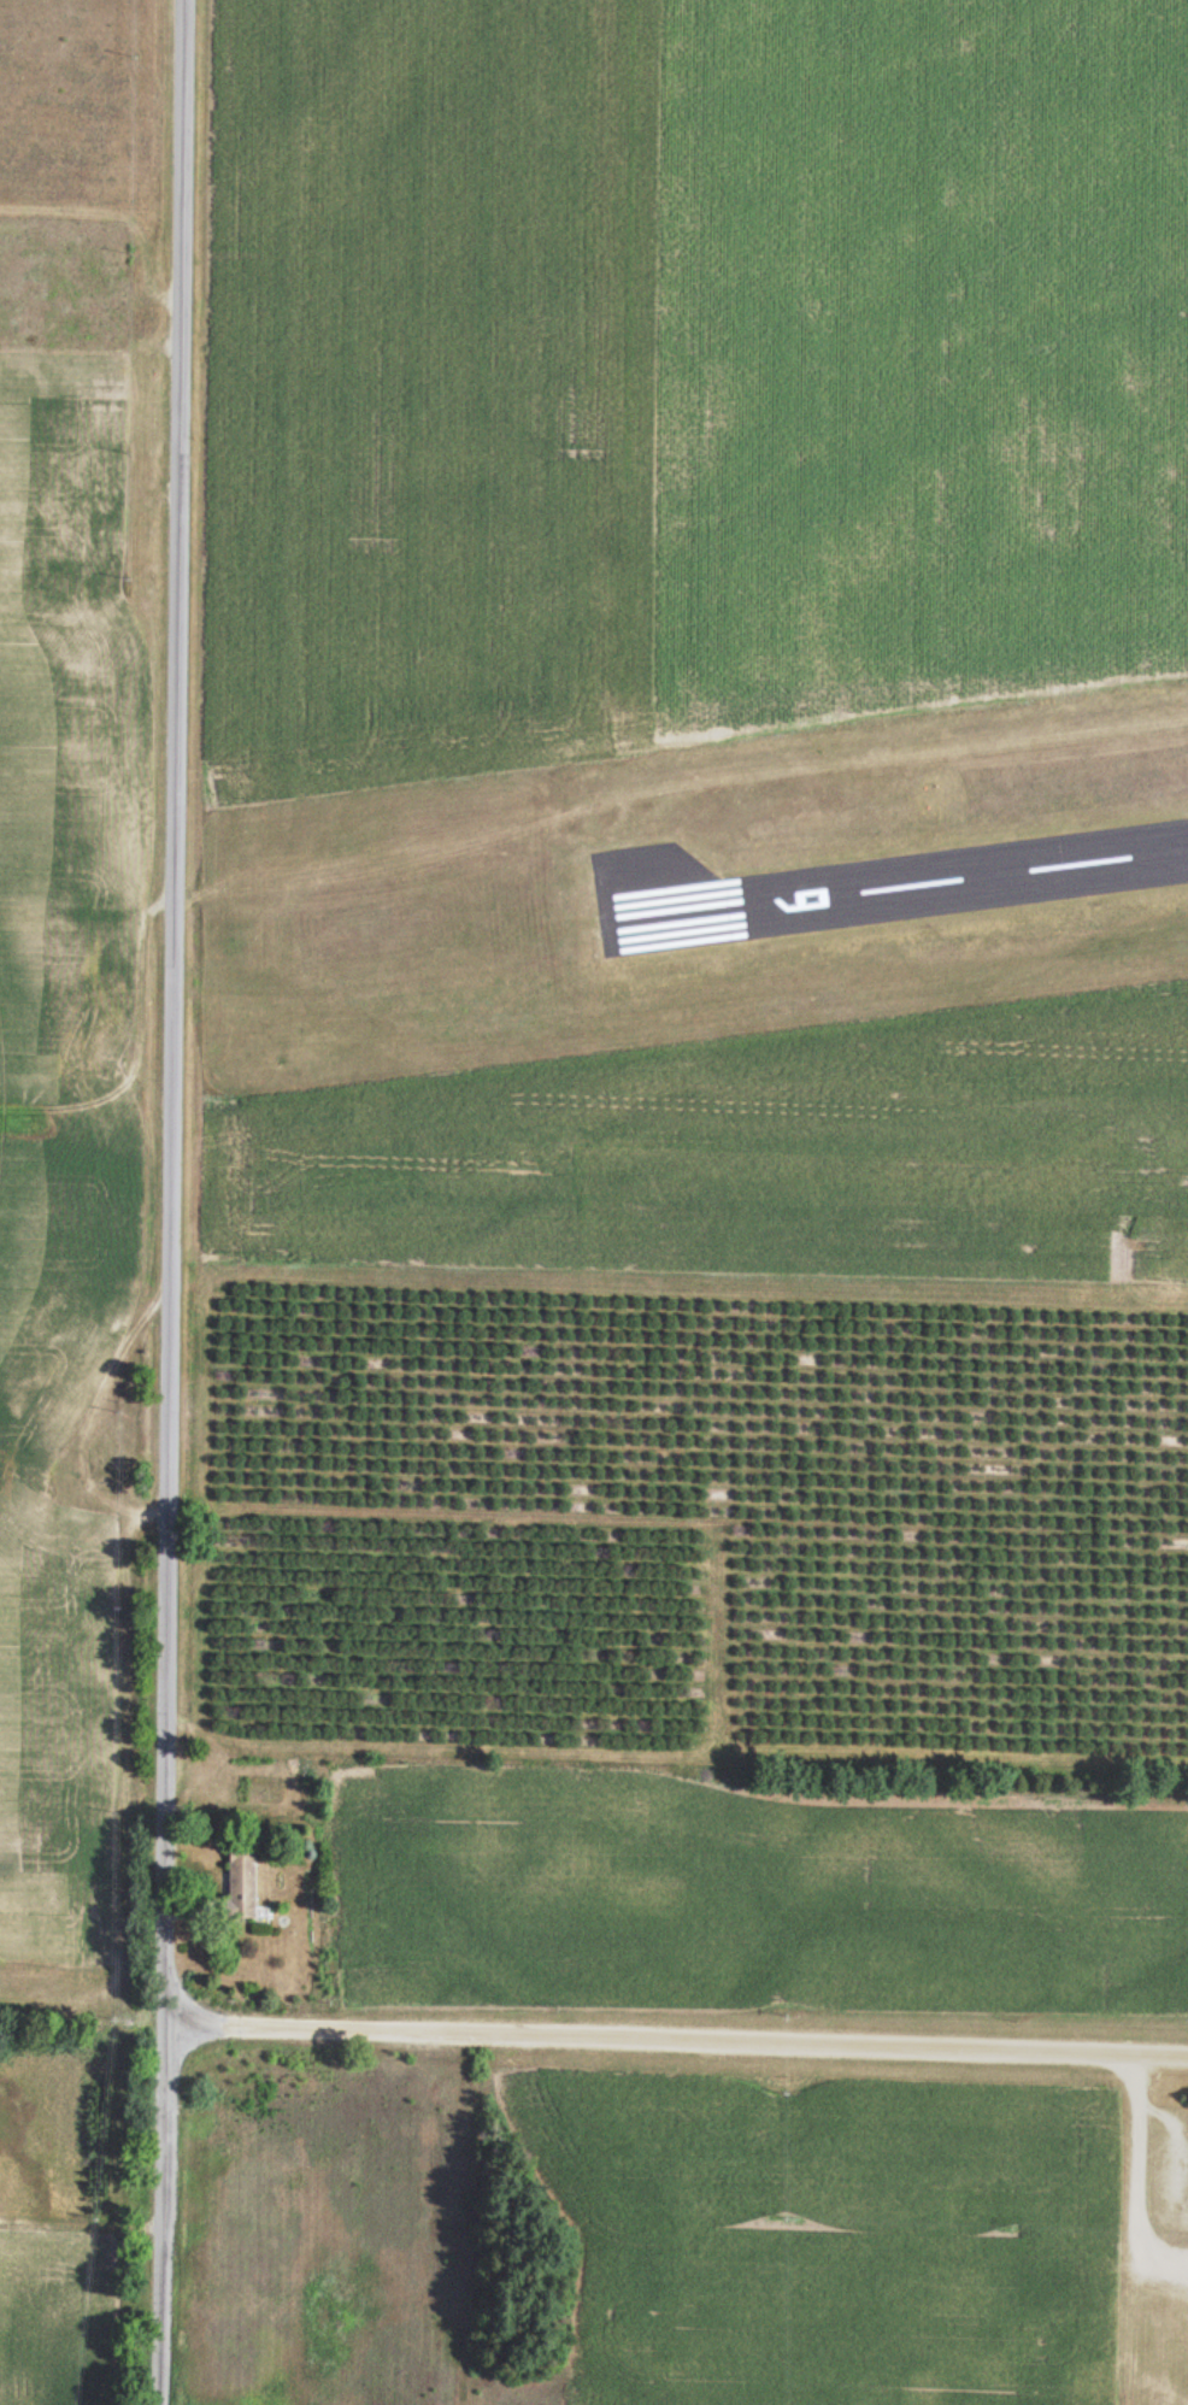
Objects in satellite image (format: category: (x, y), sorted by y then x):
airport runway: (892, 887)
airport: (690, 901)
road: (174, 1201)
building: (240, 1887)
road: (676, 2018)

